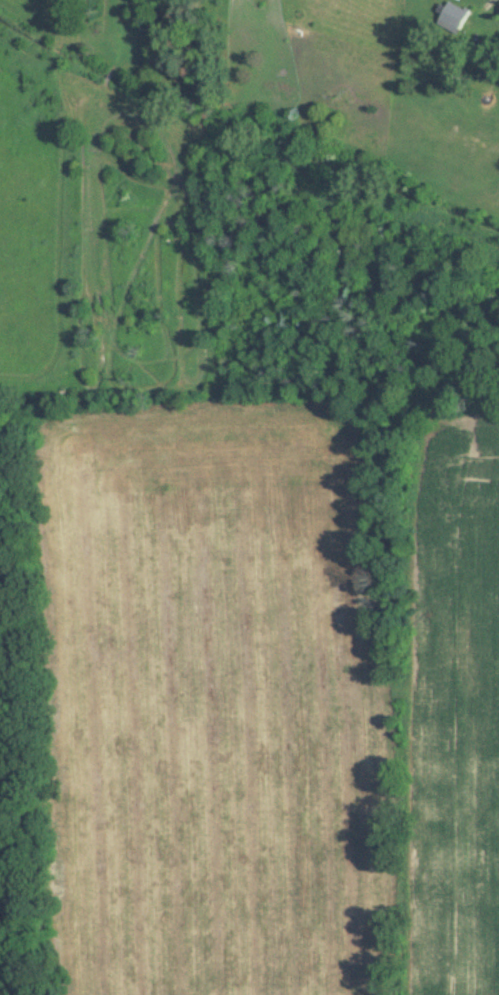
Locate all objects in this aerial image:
building: (448, 15)

